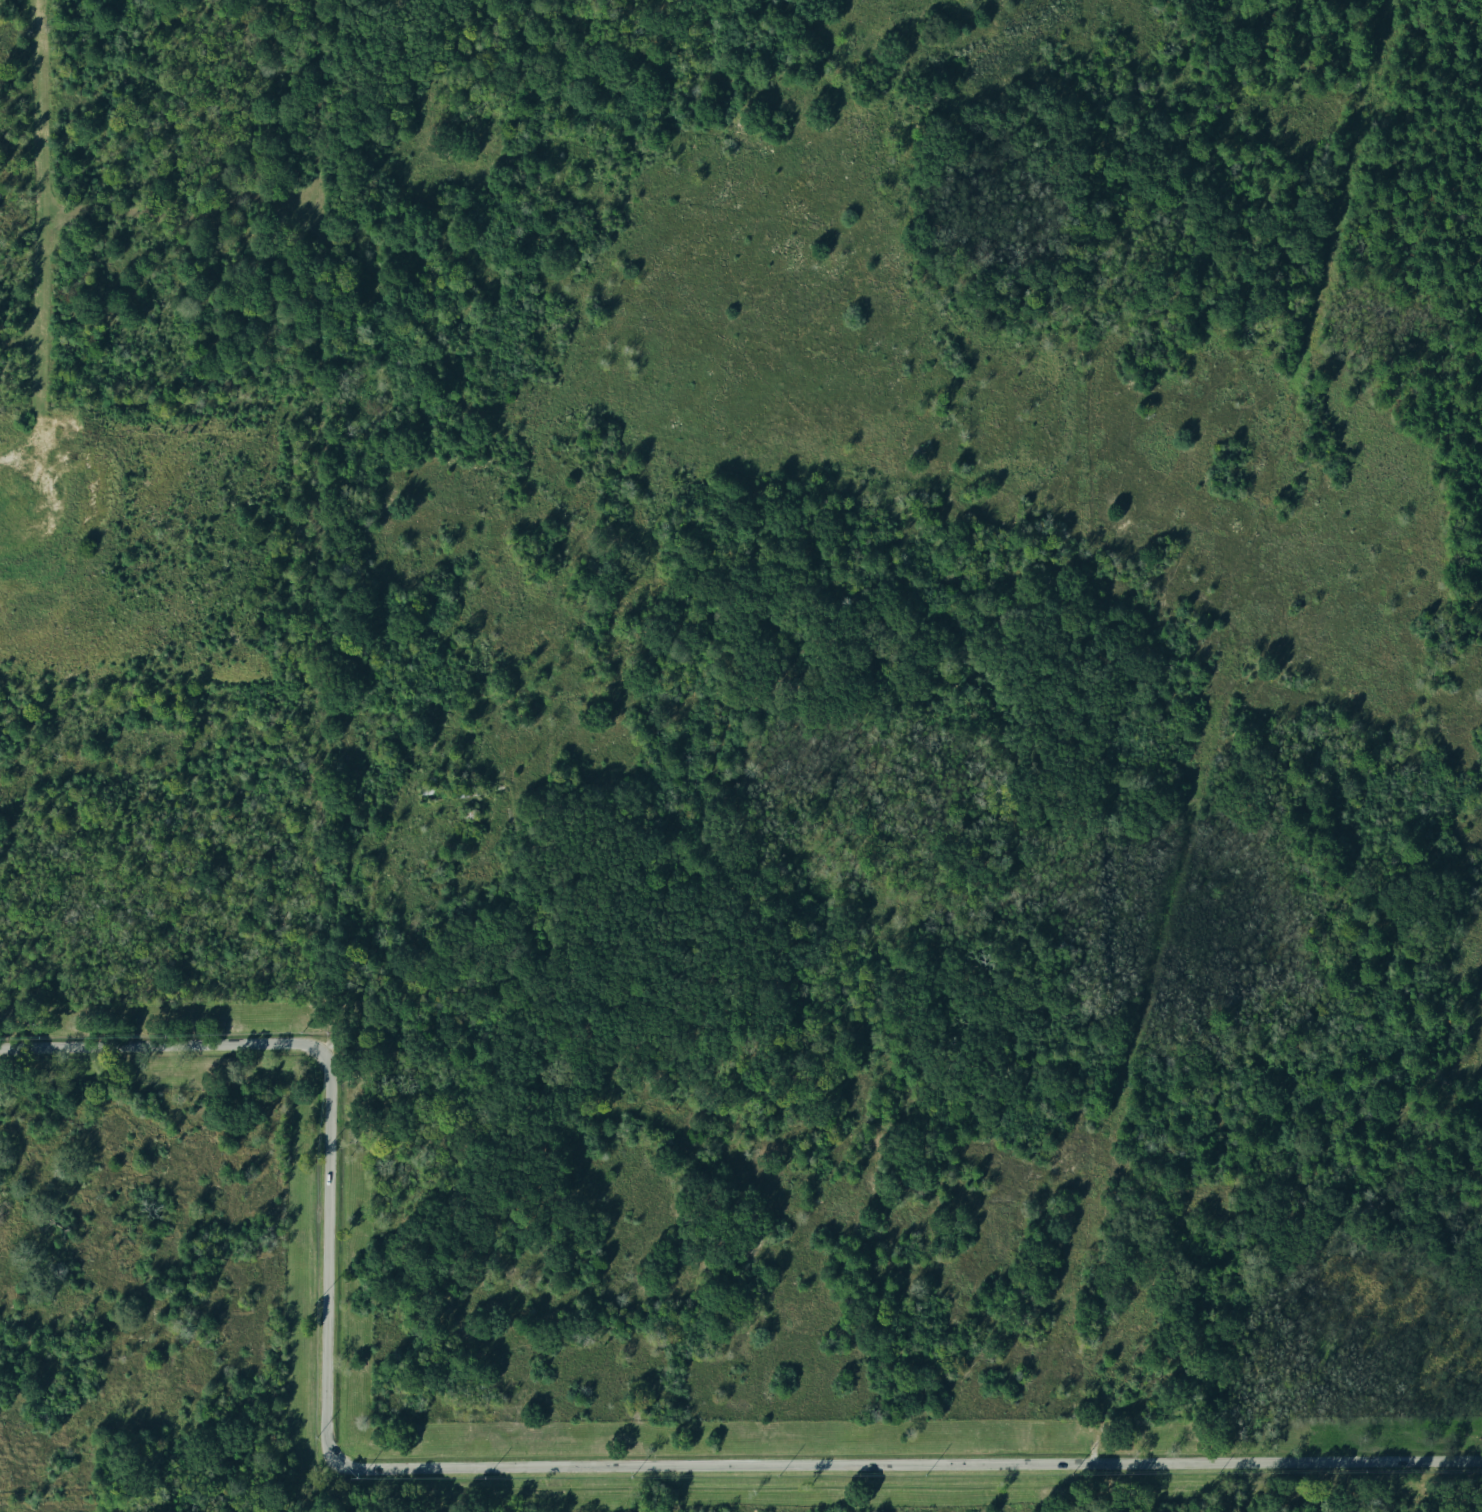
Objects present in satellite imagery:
road: (540, 1466)

